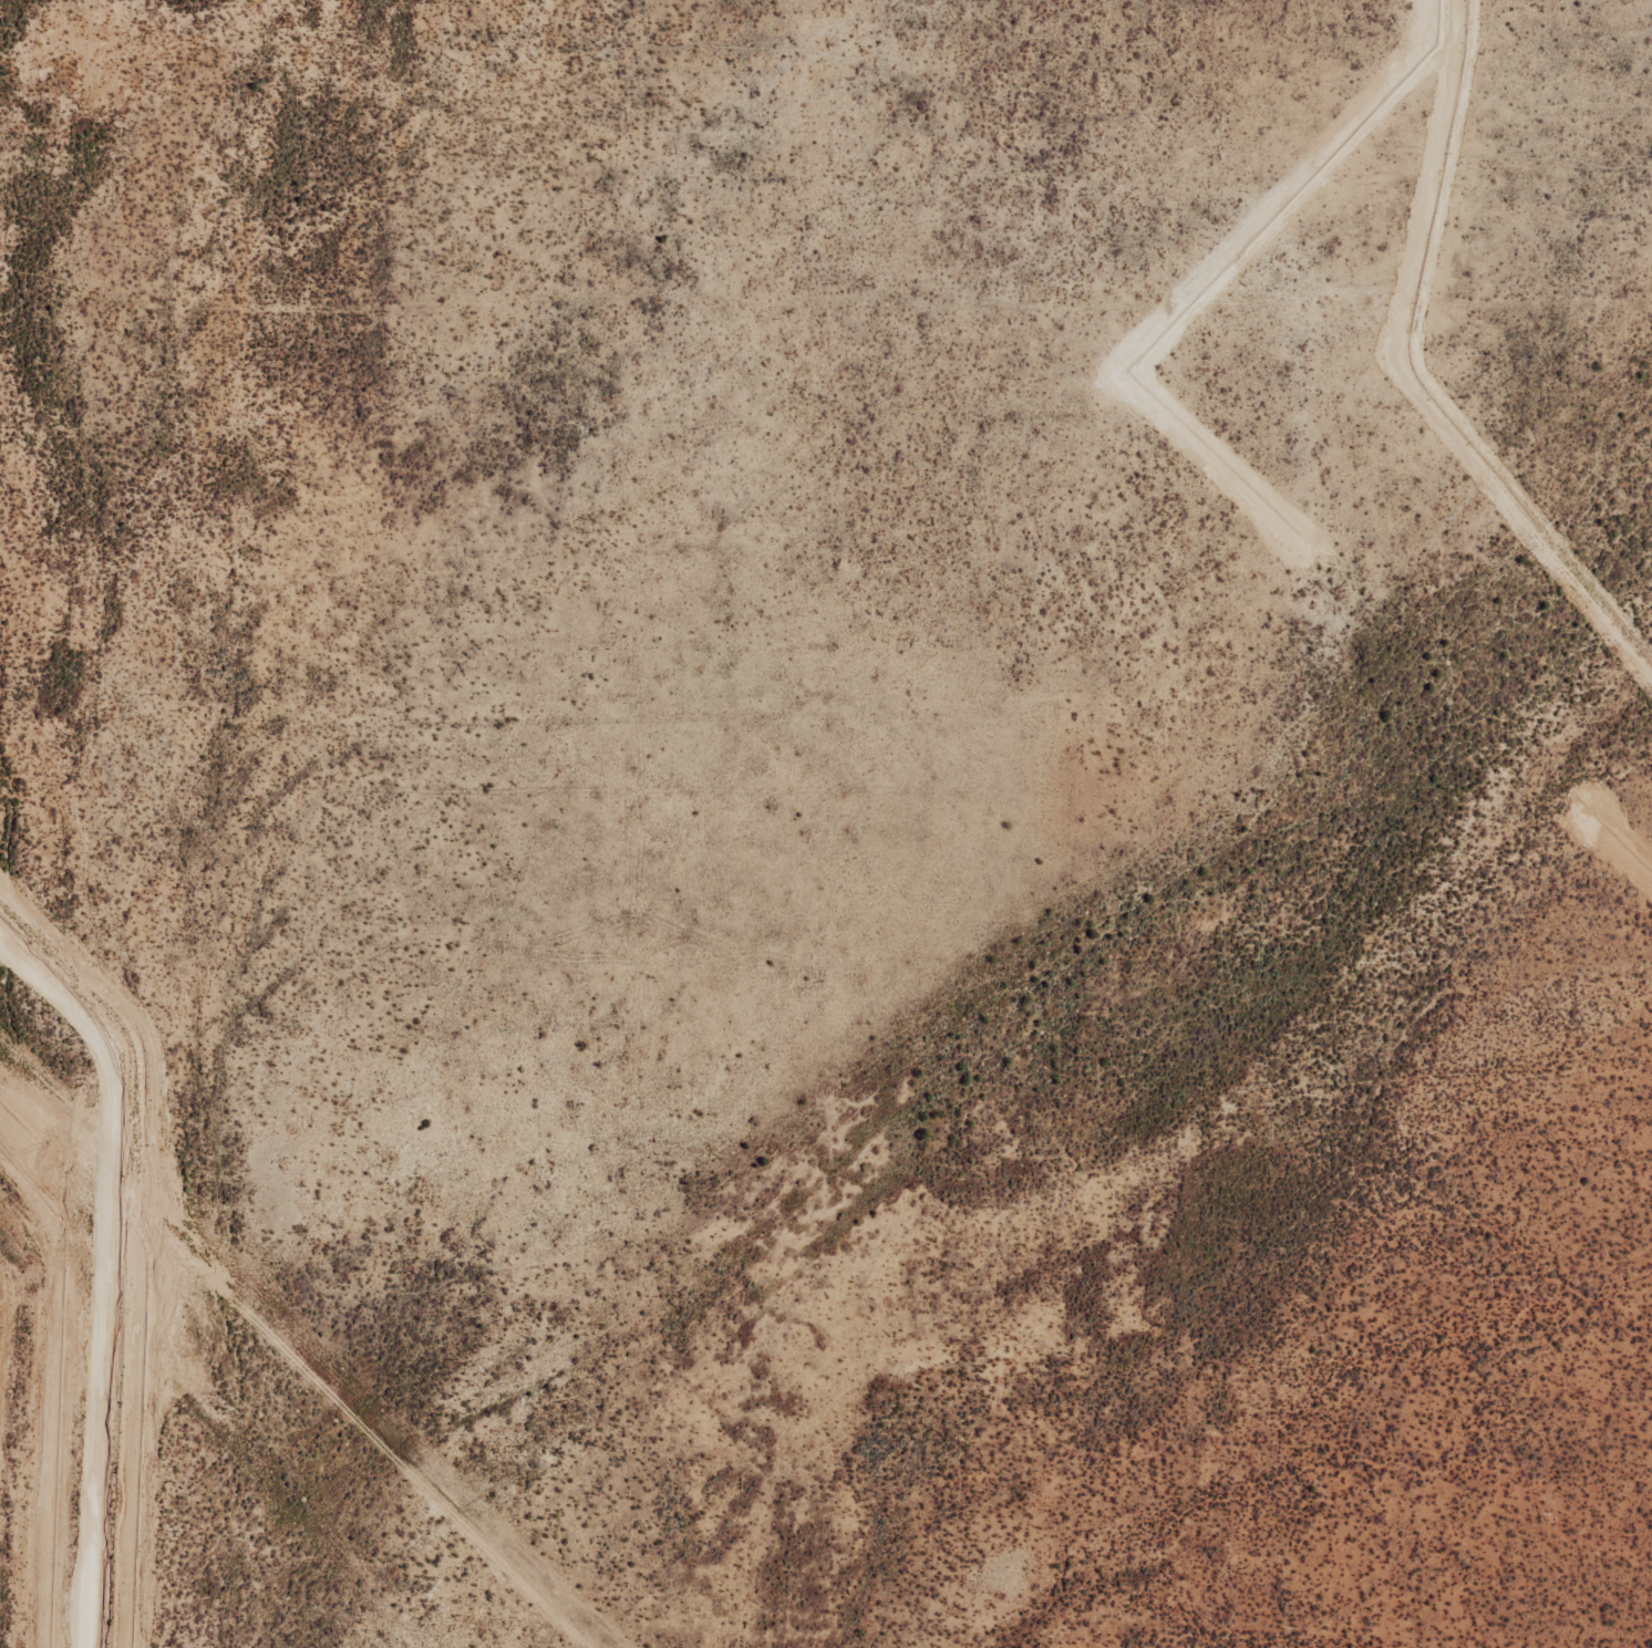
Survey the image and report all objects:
road: (107, 1267)

